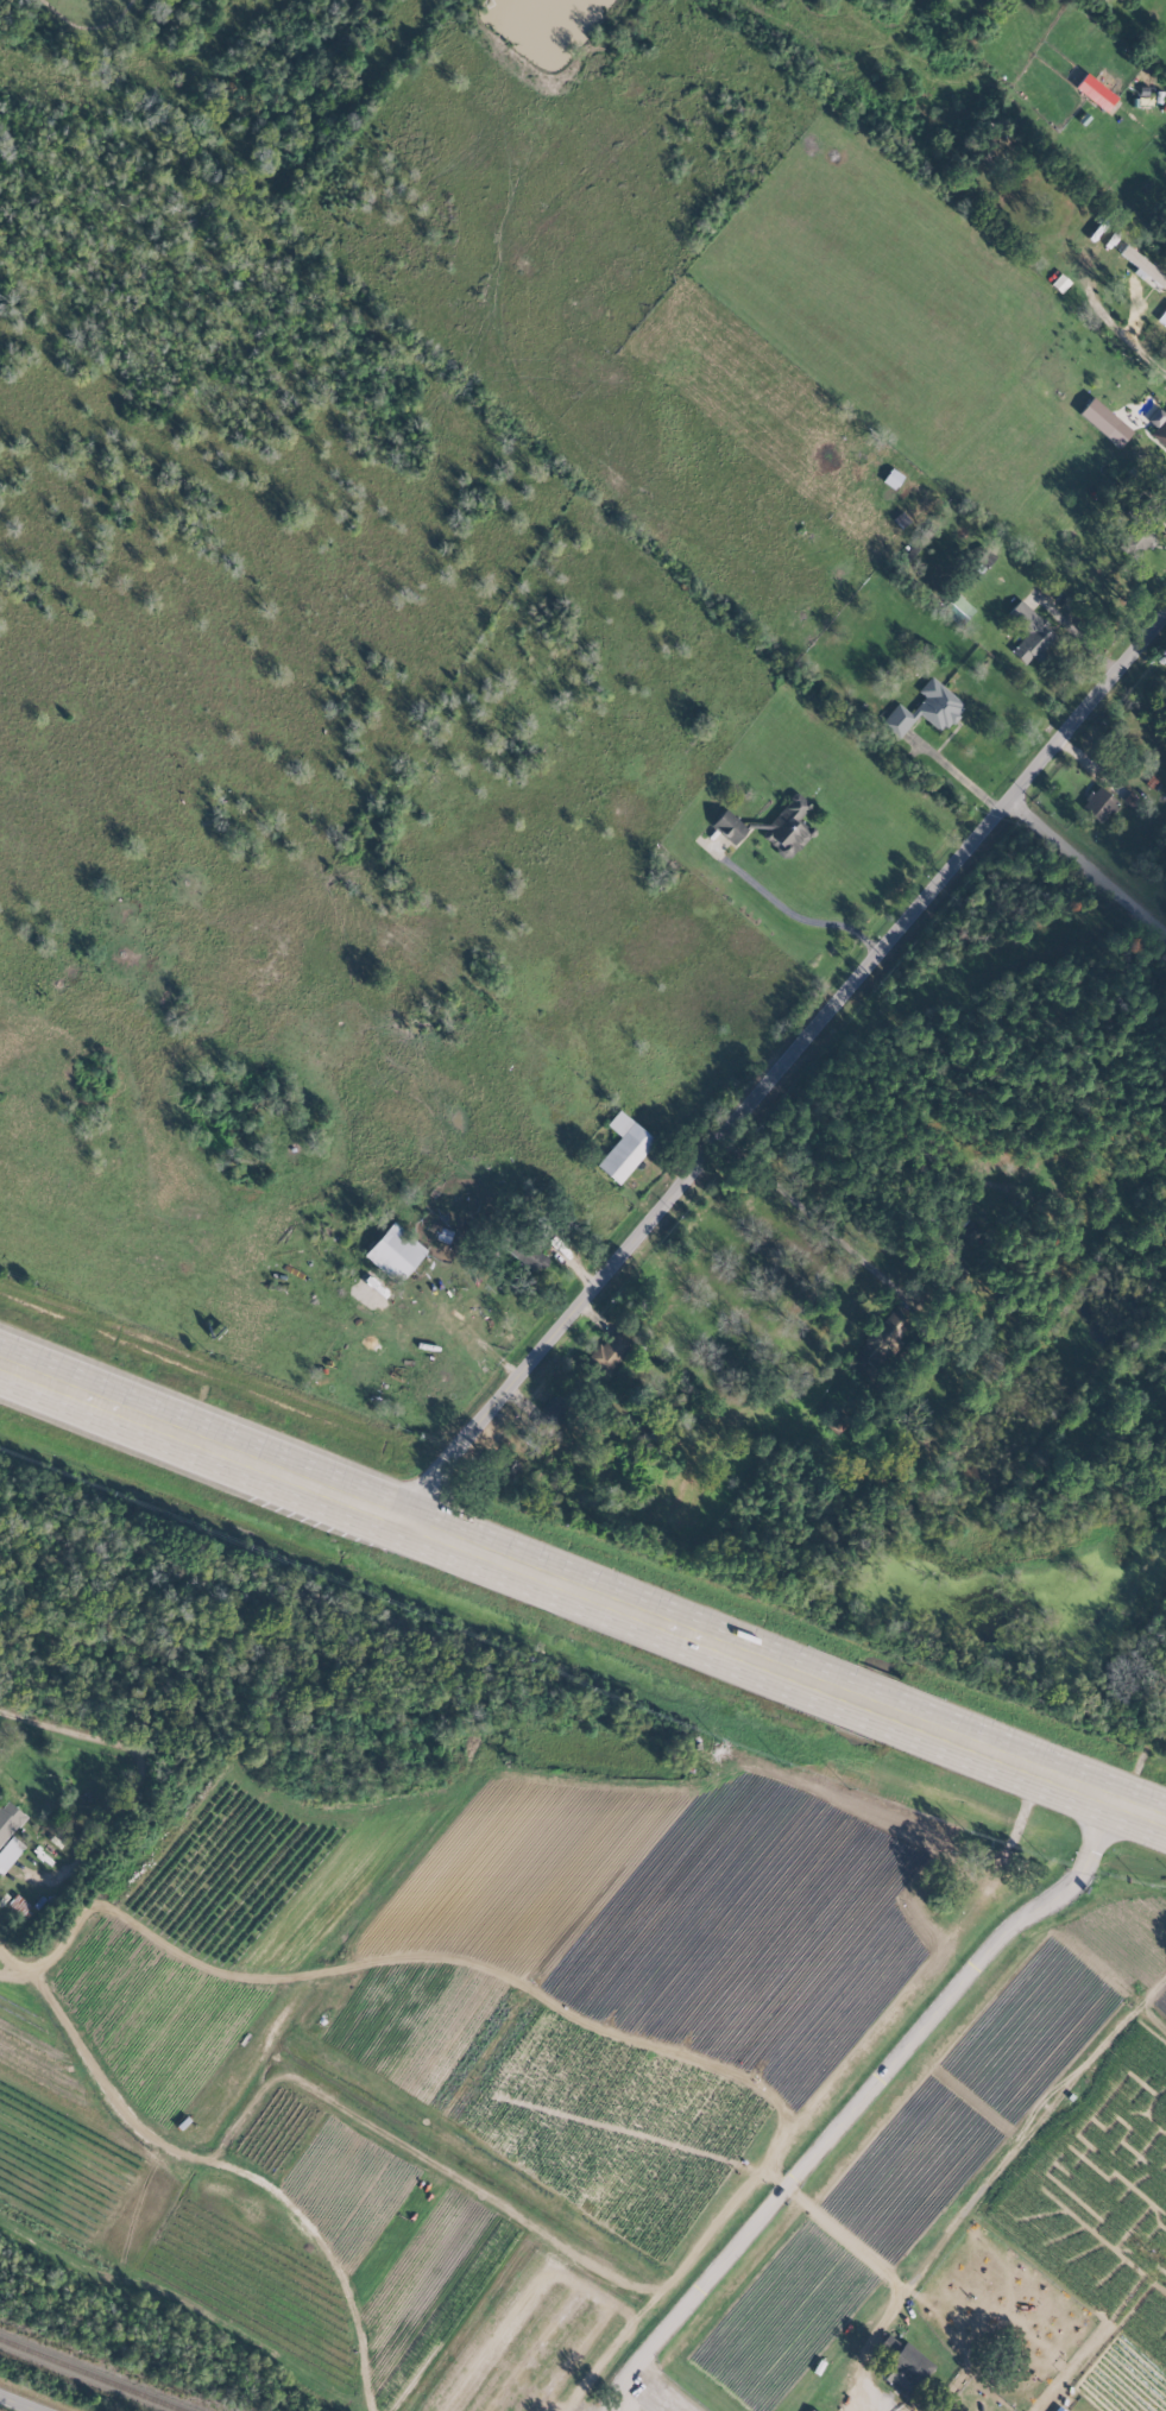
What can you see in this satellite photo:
building: (1095, 91)
road: (1093, 397)
building: (1104, 422)
building: (1159, 427)
building: (957, 608)
building: (1029, 633)
building: (925, 709)
road: (958, 776)
building: (1097, 804)
building: (787, 825)
building: (727, 826)
road: (1090, 866)
road: (794, 914)
road: (784, 1074)
building: (623, 1147)
road: (811, 1216)
building: (968, 1231)
building: (393, 1252)
road: (644, 1289)
building: (881, 1340)
building: (609, 1351)
road: (581, 1597)
road: (140, 1778)
building: (8, 1819)
road: (422, 1961)
road: (850, 2102)
road: (885, 2274)
building: (903, 2372)
railway: (92, 2374)
road: (14, 2405)
road: (885, 2405)

